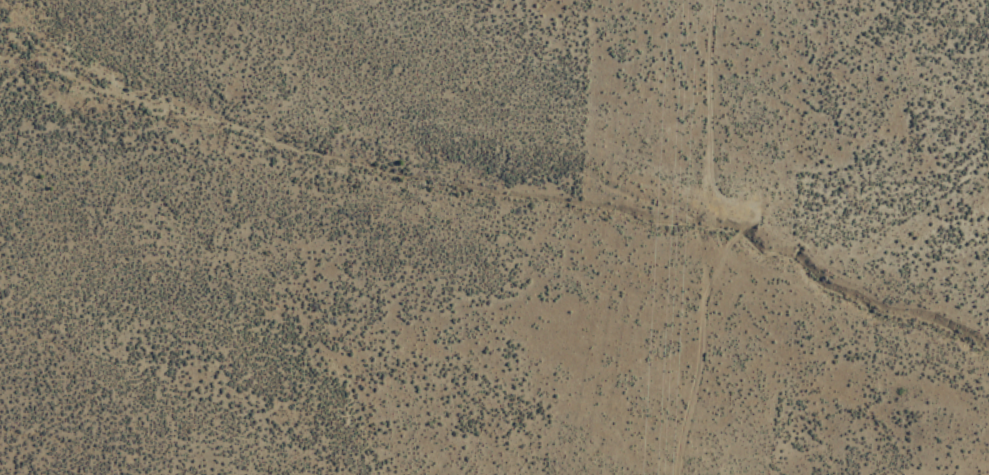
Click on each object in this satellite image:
crop: (428, 146)
road: (706, 238)

